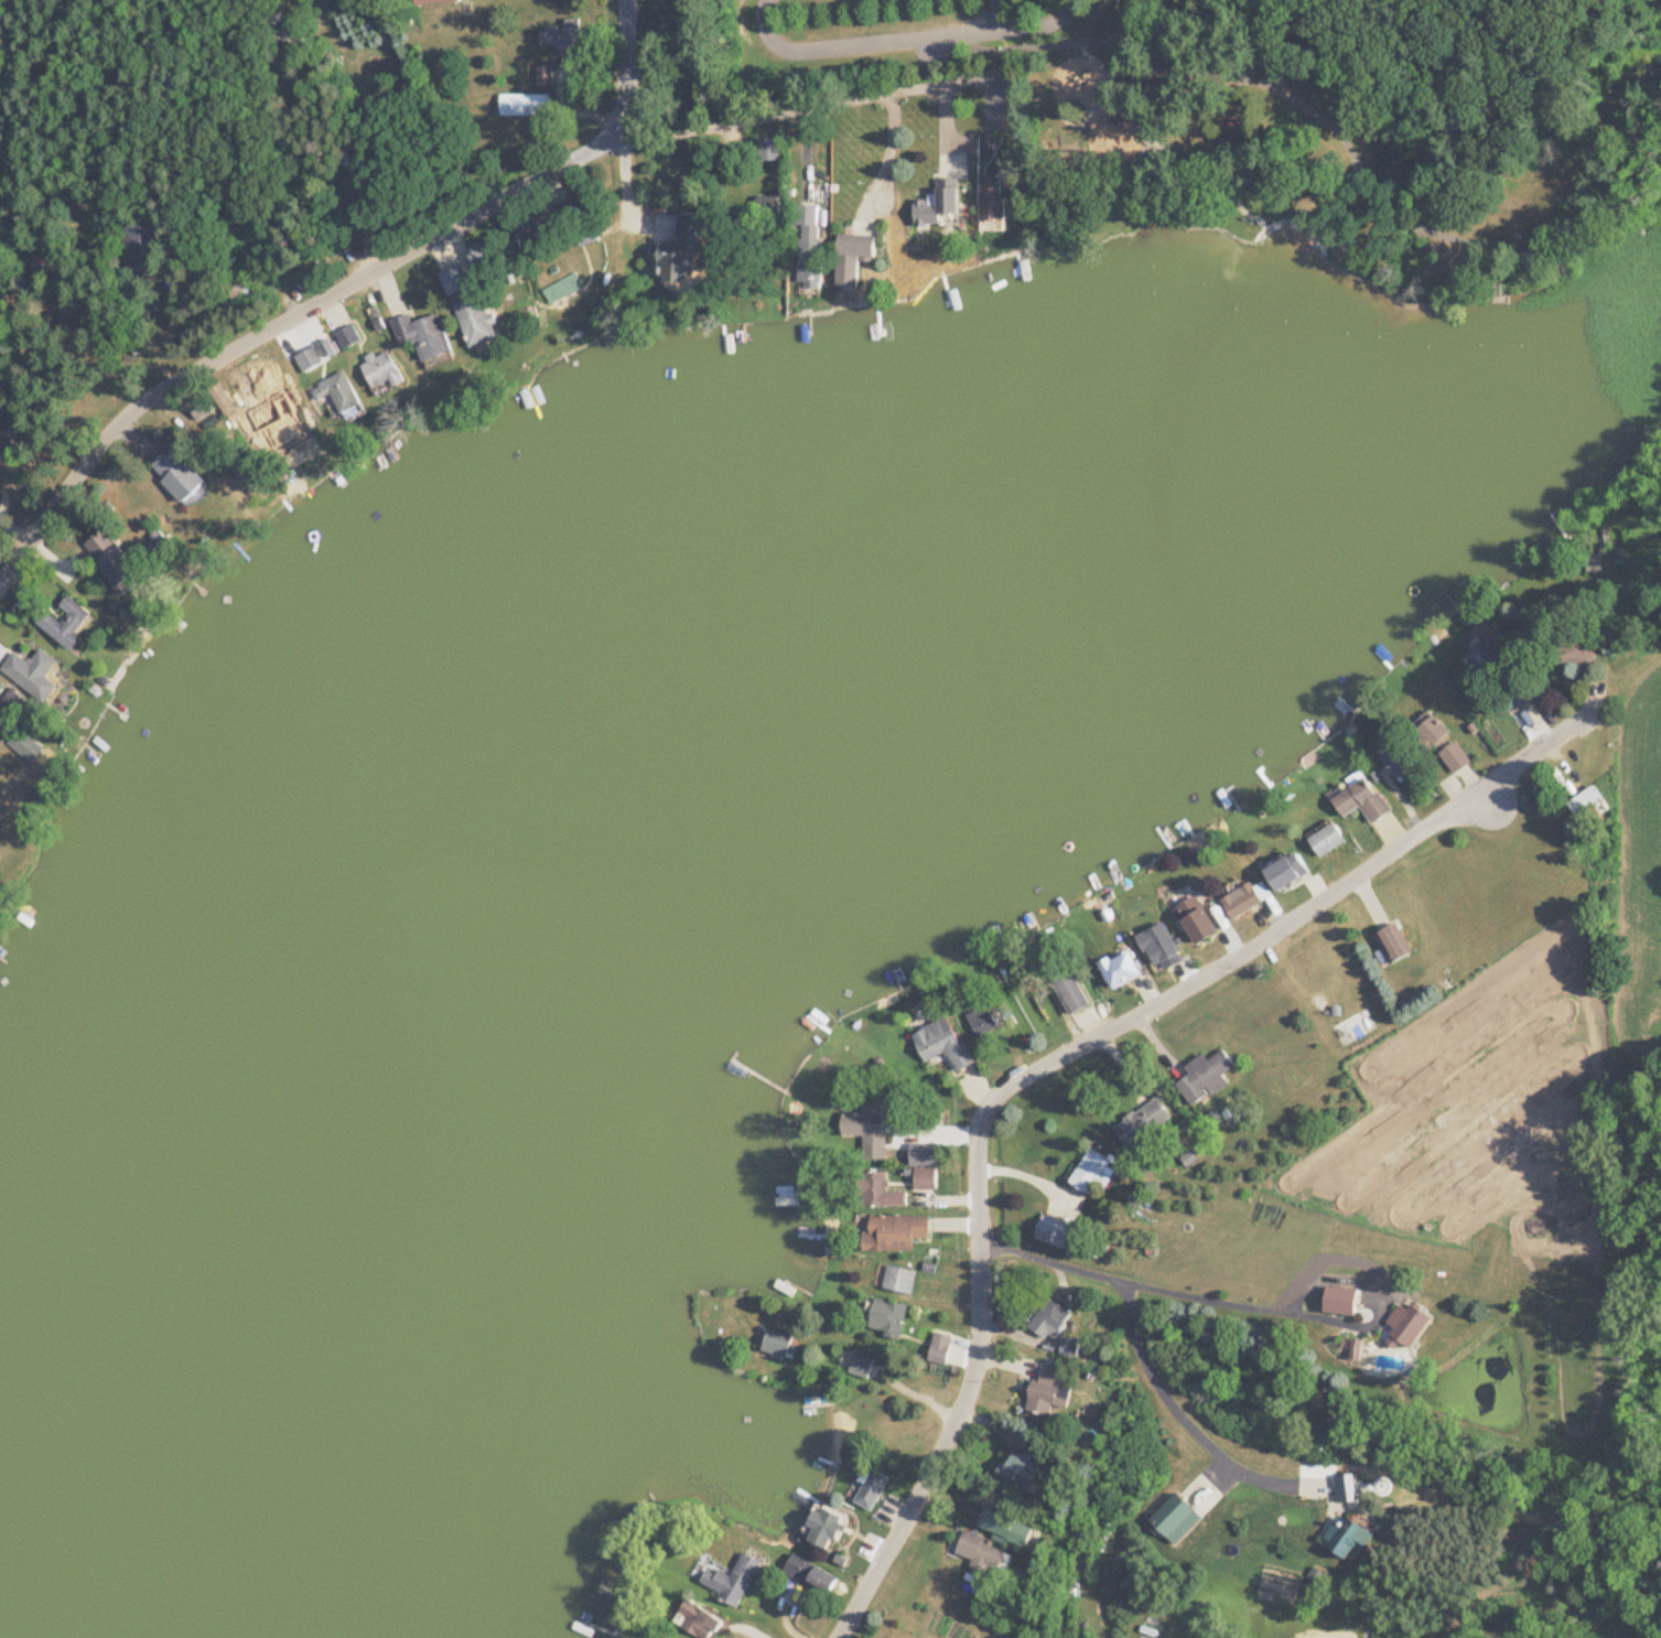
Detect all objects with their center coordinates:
building: (435, 1)
road: (999, 13)
road: (1039, 23)
building: (563, 37)
road: (864, 40)
road: (629, 65)
road: (992, 93)
building: (526, 105)
road: (756, 119)
park: (1252, 122)
building: (770, 149)
road: (891, 155)
road: (627, 175)
building: (993, 203)
building: (940, 206)
building: (556, 219)
building: (589, 237)
building: (143, 245)
building: (812, 247)
building: (687, 249)
building: (488, 256)
building: (855, 258)
building: (564, 289)
building: (471, 309)
road: (282, 324)
building: (350, 337)
building: (427, 338)
building: (311, 359)
building: (384, 369)
building: (341, 394)
building: (180, 474)
building: (116, 561)
building: (67, 623)
building: (1579, 651)
building: (1487, 656)
building: (33, 671)
building: (1517, 696)
building: (1432, 730)
building: (25, 745)
building: (1456, 755)
building: (1398, 759)
building: (2, 784)
building: (1362, 799)
building: (1592, 804)
building: (1327, 839)
building: (1287, 868)
building: (1247, 897)
building: (1199, 918)
building: (1394, 941)
building: (1162, 946)
building: (1122, 968)
building: (1069, 987)
building: (983, 1020)
building: (943, 1041)
road: (1060, 1056)
building: (1206, 1076)
building: (1143, 1121)
building: (871, 1124)
building: (924, 1153)
road: (1026, 1165)
building: (1093, 1171)
building: (926, 1176)
building: (880, 1189)
building: (1057, 1231)
building: (896, 1232)
building: (1096, 1247)
road: (1054, 1260)
building: (899, 1279)
building: (1344, 1300)
building: (889, 1316)
building: (1050, 1318)
road: (1341, 1321)
building: (1409, 1325)
building: (778, 1343)
building: (1070, 1346)
building: (940, 1347)
building: (861, 1366)
building: (1050, 1390)
road: (1178, 1408)
building: (1021, 1469)
building: (870, 1487)
building: (1347, 1487)
building: (1006, 1526)
building: (827, 1527)
building: (1349, 1533)
road: (1583, 1539)
building: (984, 1552)
building: (811, 1573)
building: (733, 1577)
building: (699, 1619)

